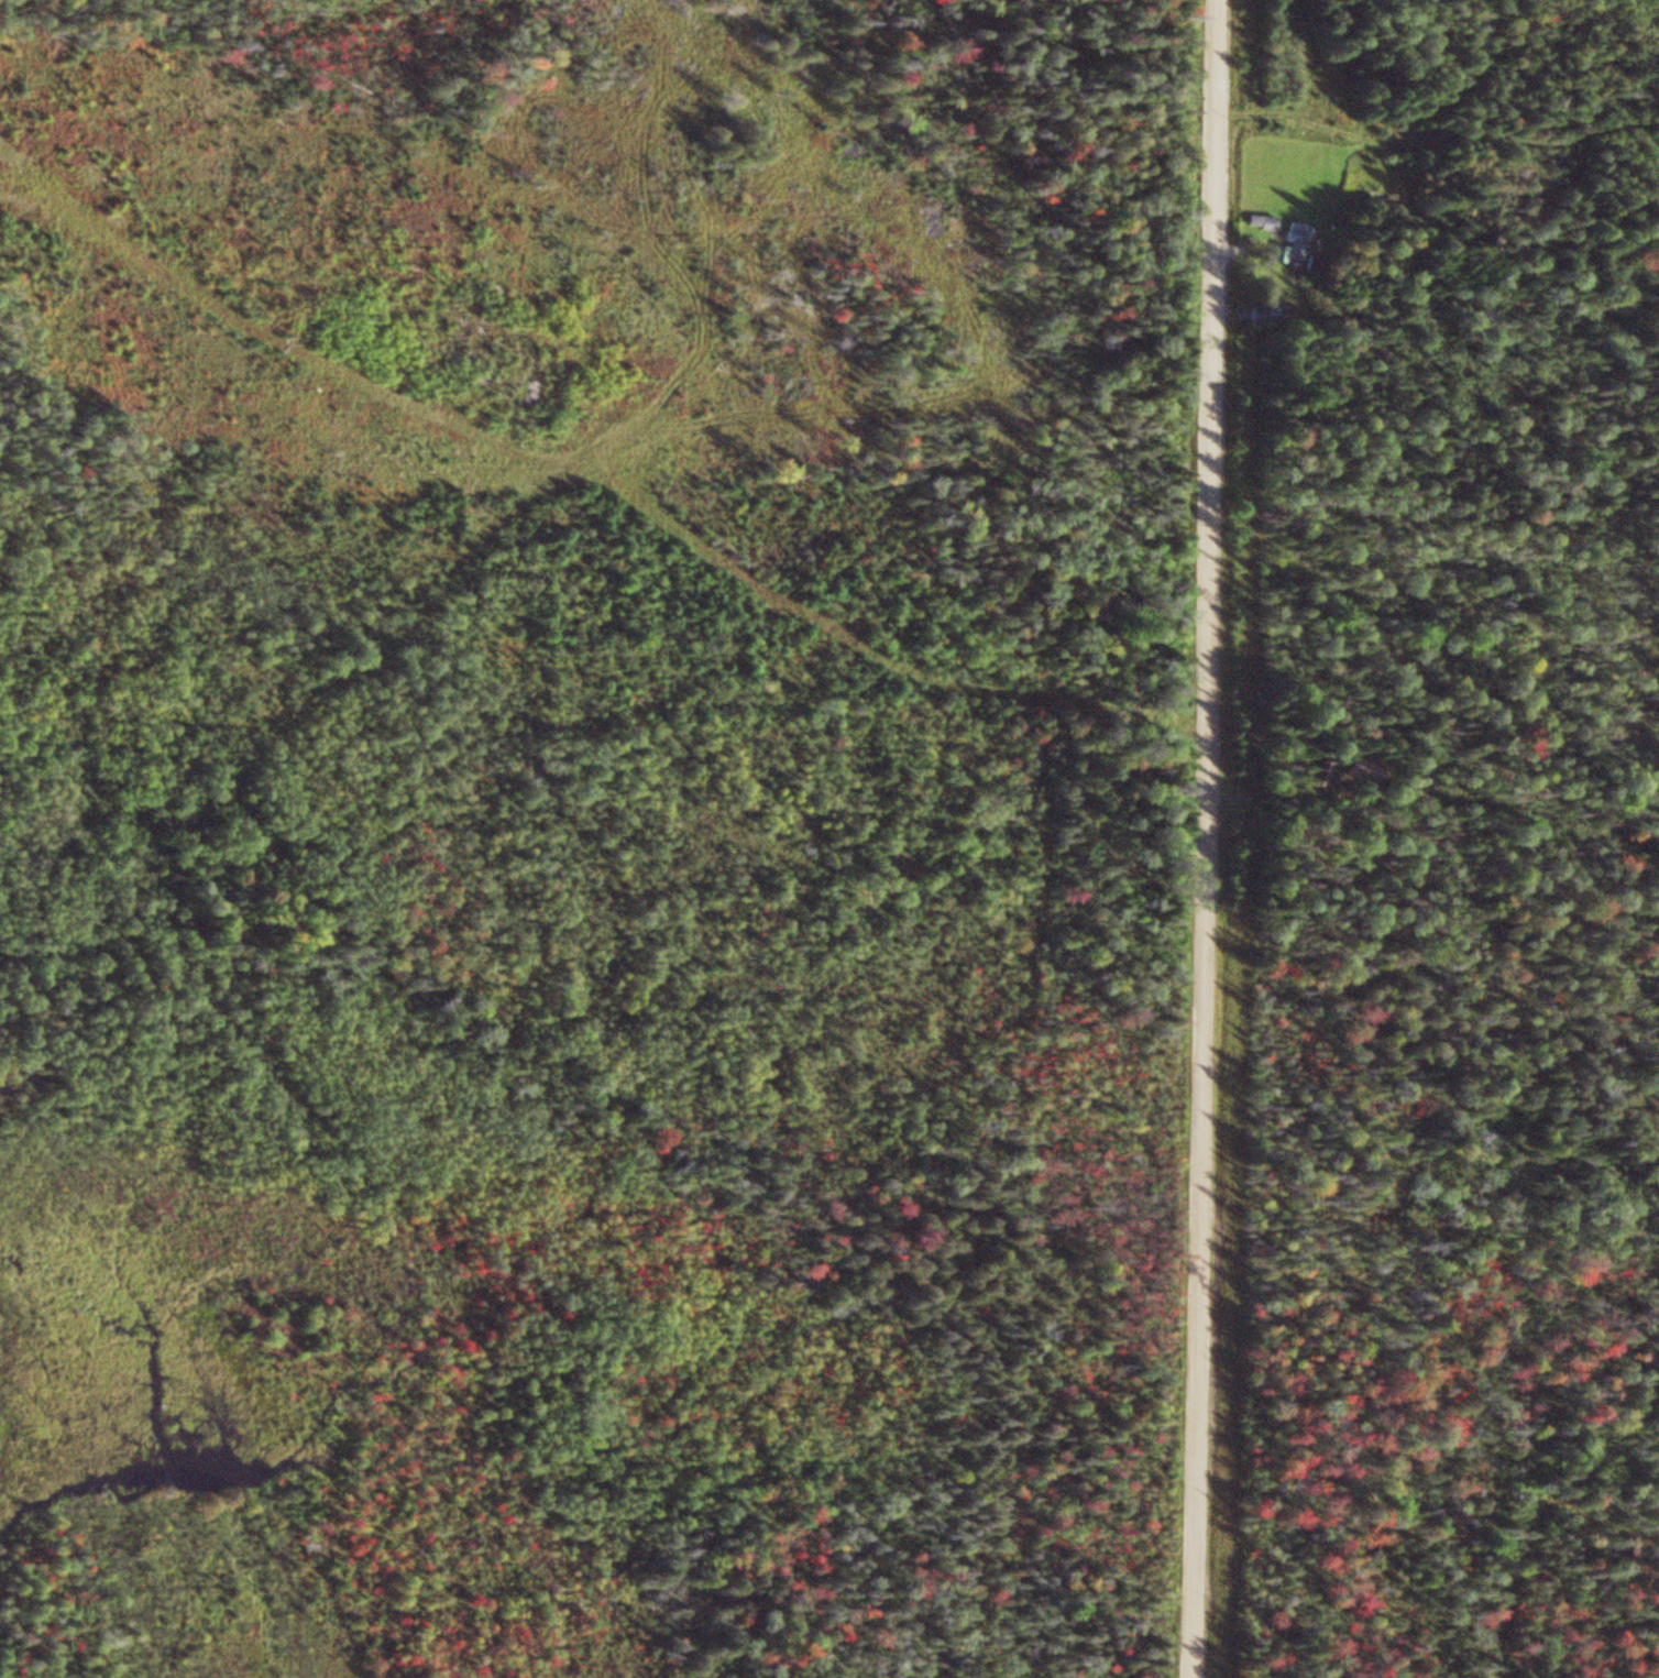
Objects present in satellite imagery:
building: (1264, 222)
building: (1298, 244)
building: (1266, 316)
road: (1443, 785)
road: (1217, 838)

